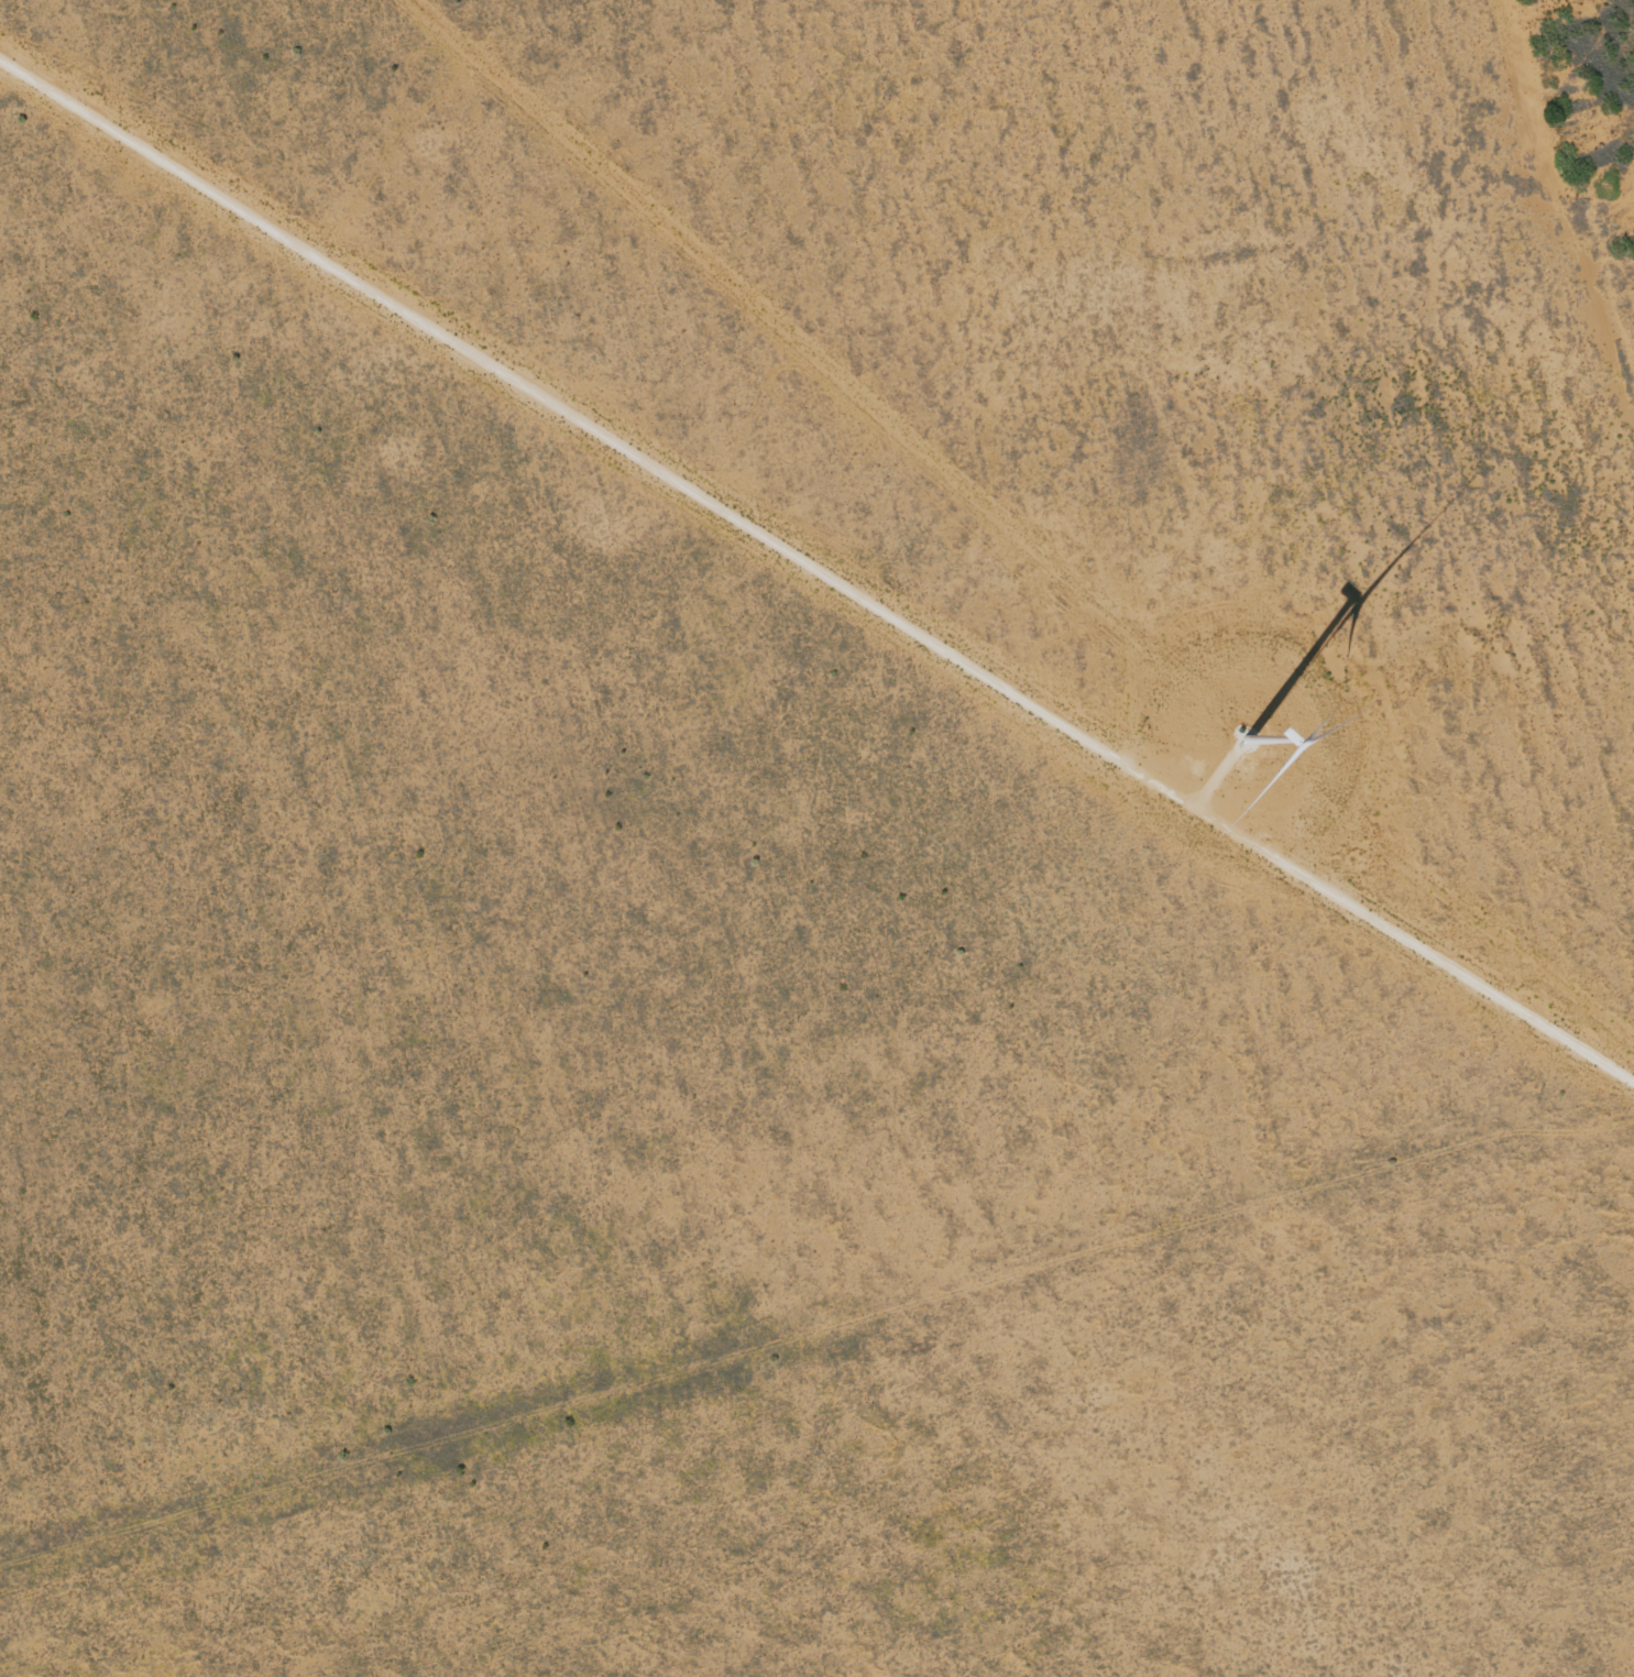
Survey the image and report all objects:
wind turbine: (1233, 757)

